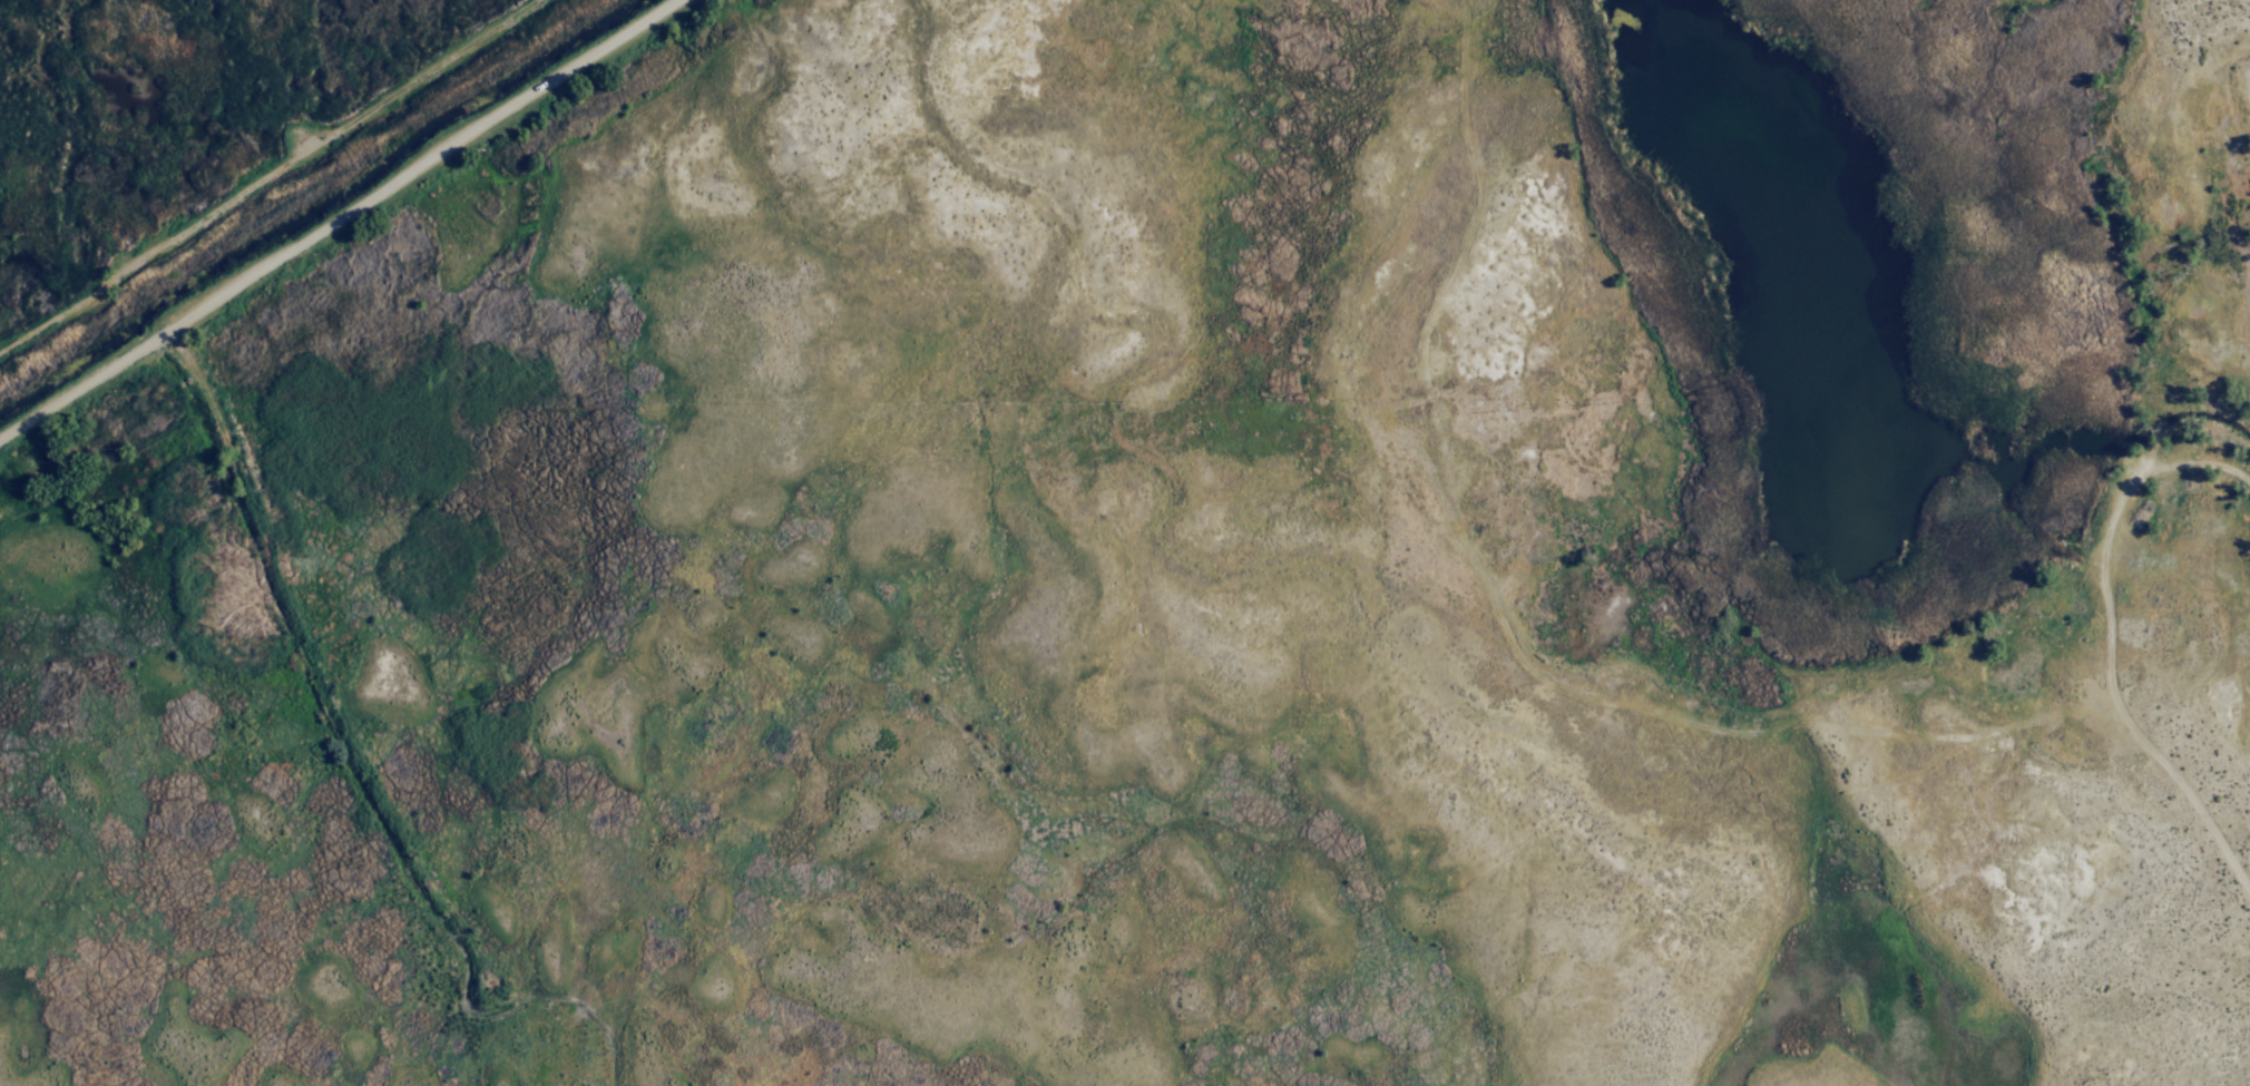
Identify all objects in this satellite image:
road: (340, 219)
road: (2113, 643)

